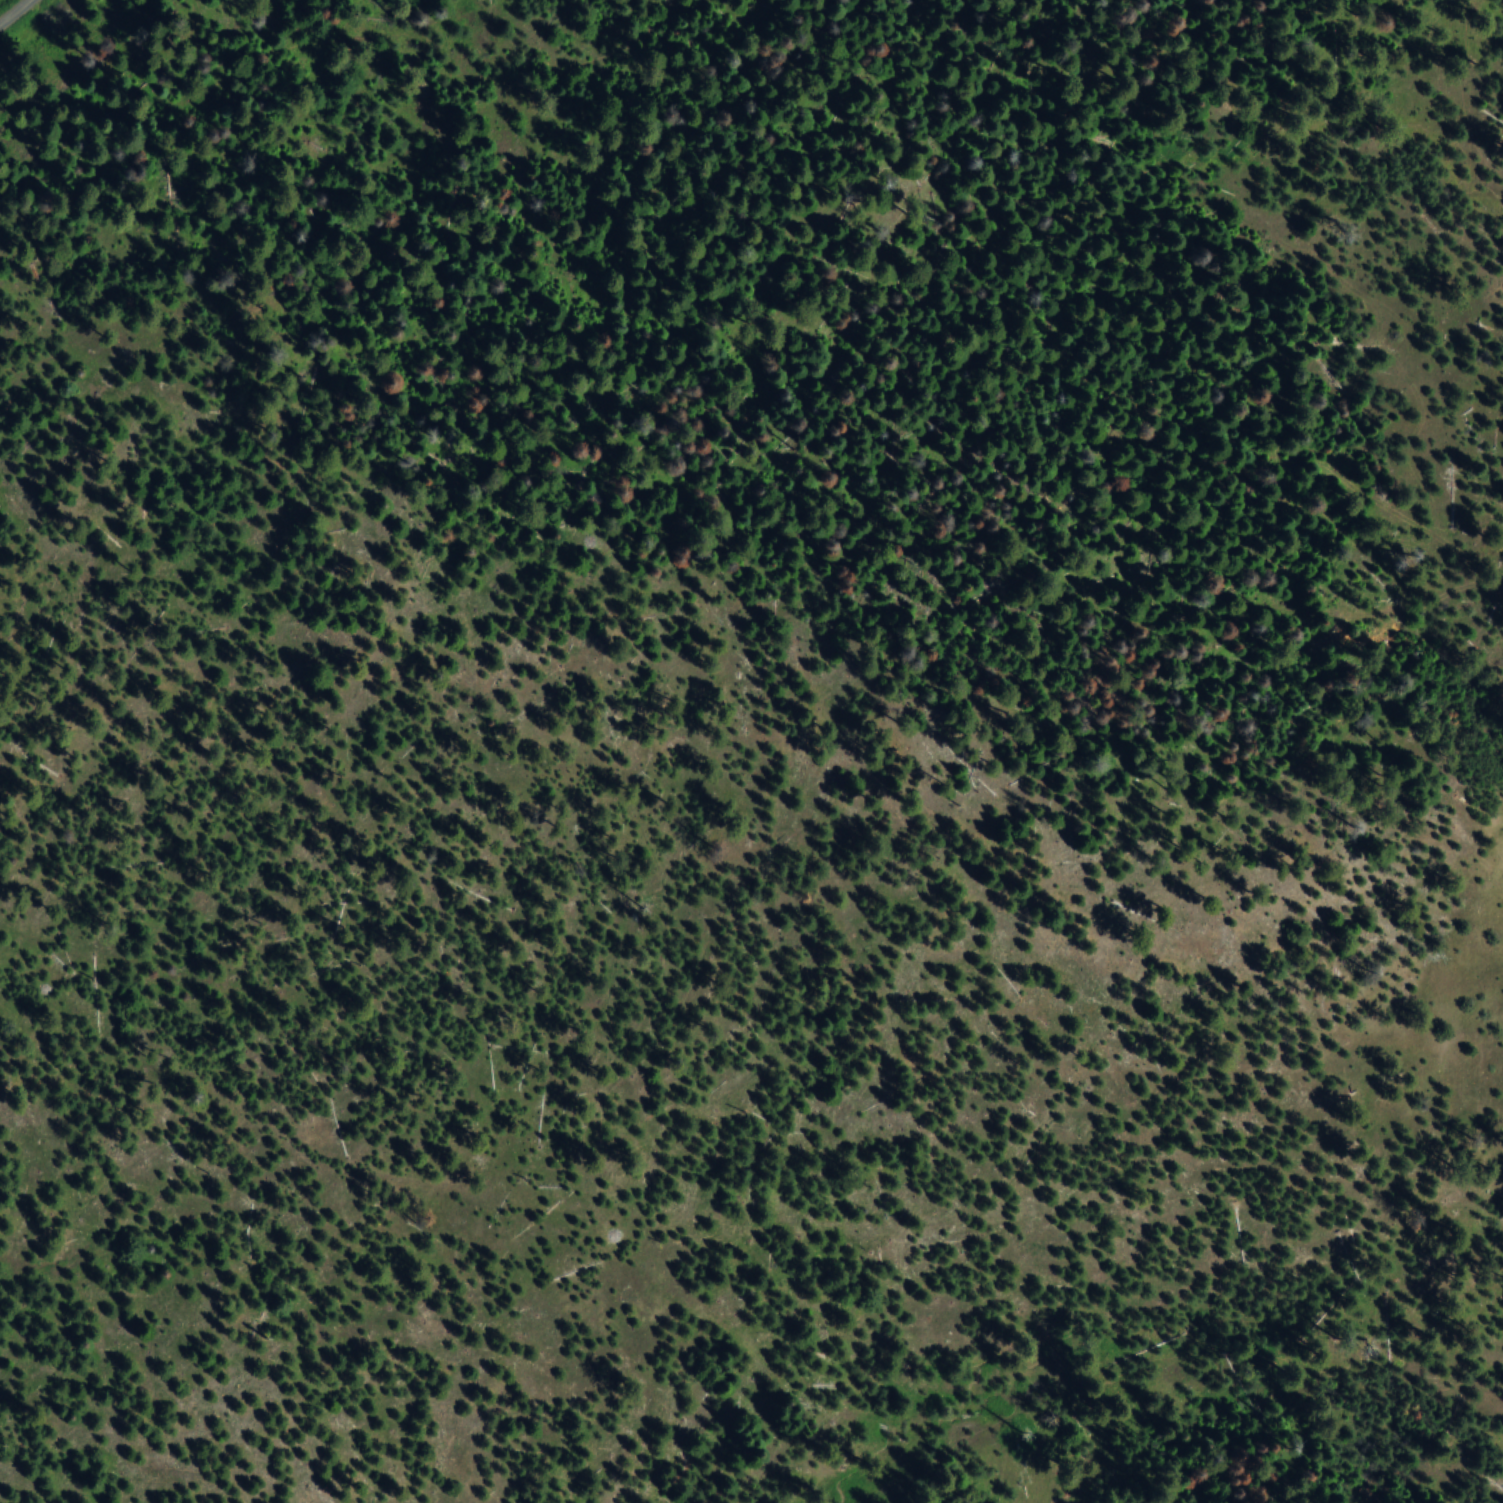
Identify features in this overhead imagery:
road: (45, 33)

